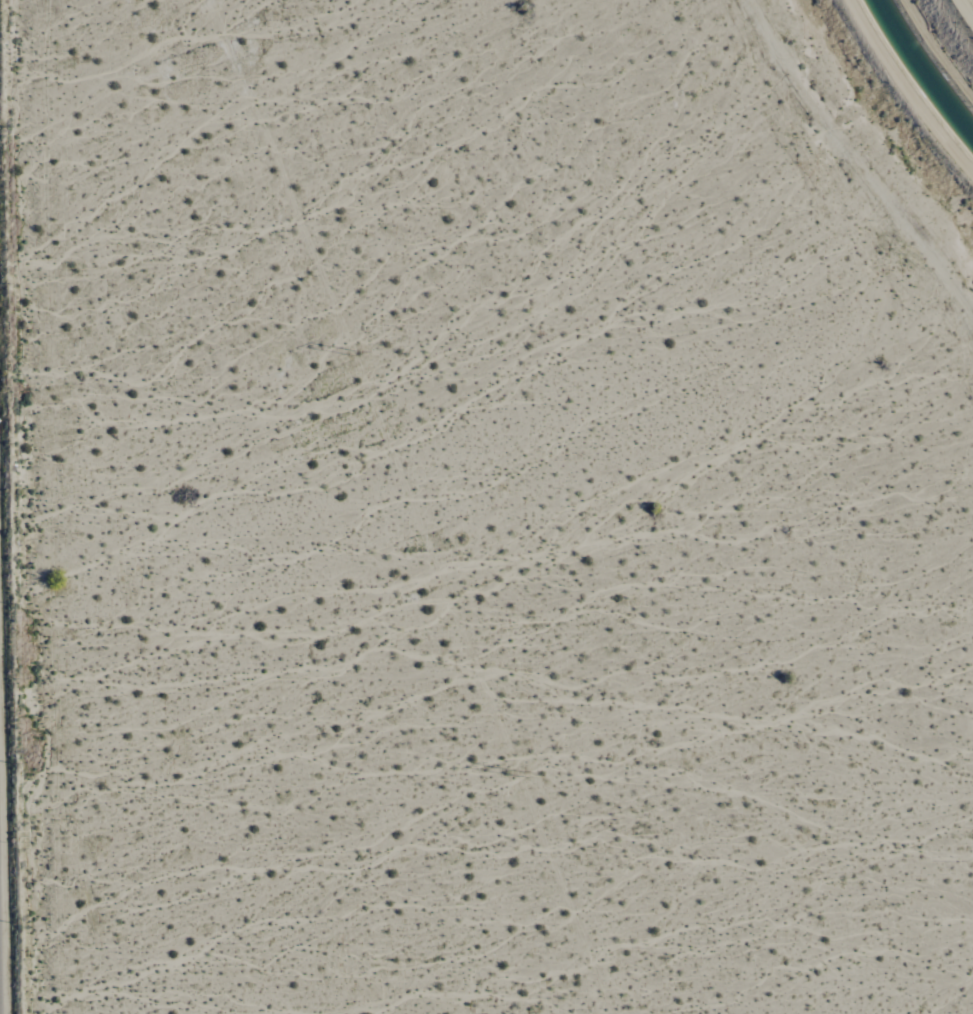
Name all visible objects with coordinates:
road: (904, 91)
power tower: (360, 350)
power tower: (526, 772)

